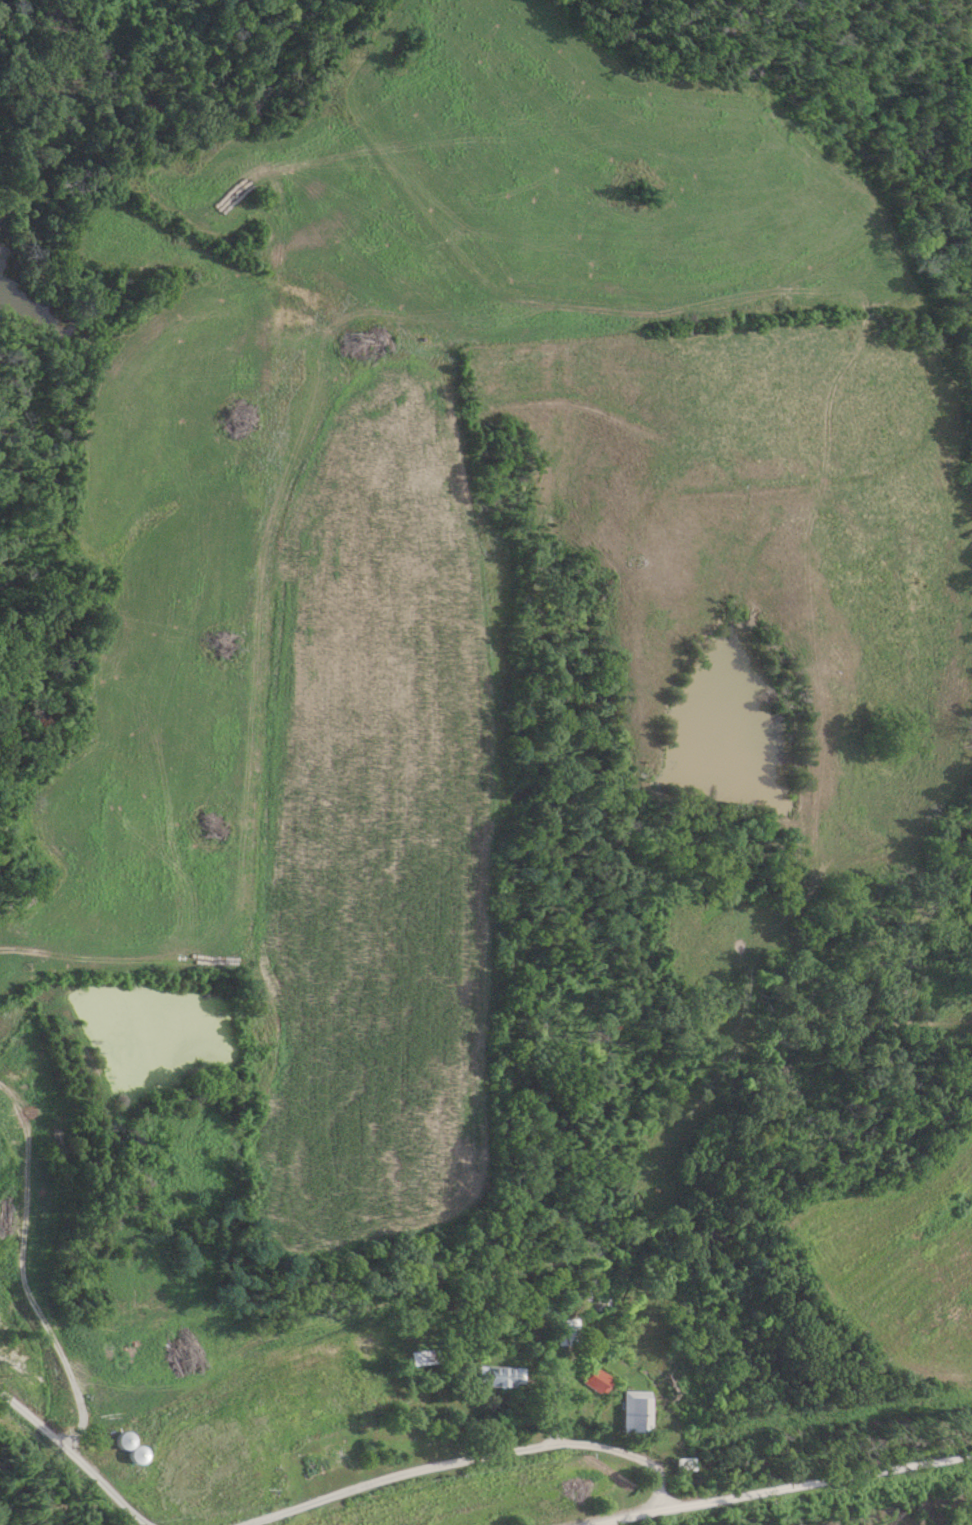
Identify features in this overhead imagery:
road: (21, 1270)
building: (605, 1297)
building: (571, 1334)
building: (503, 1378)
building: (634, 1413)
building: (129, 1448)
road: (473, 1459)
road: (73, 1461)
building: (326, 1462)
road: (788, 1488)
road: (609, 1513)

